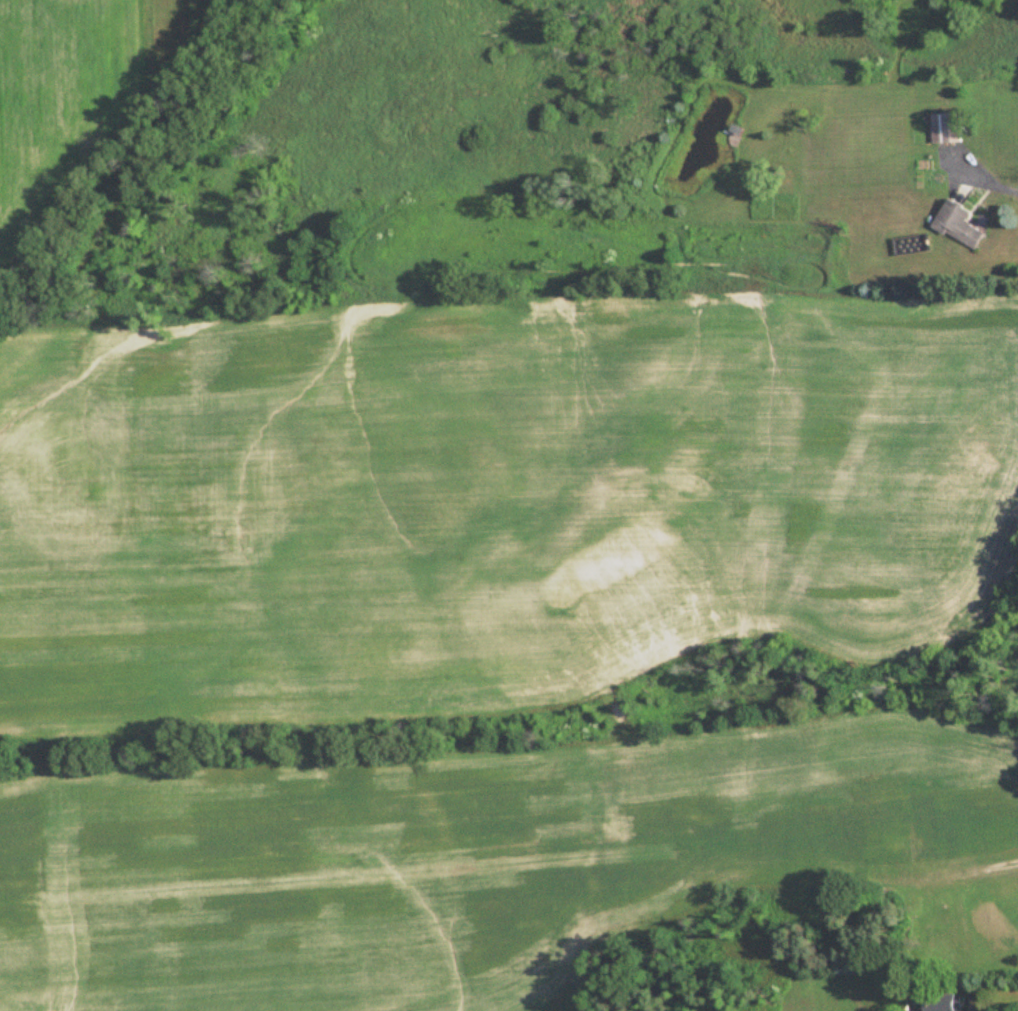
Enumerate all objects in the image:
building: (946, 128)
road: (985, 178)
building: (957, 226)
building: (939, 1004)

